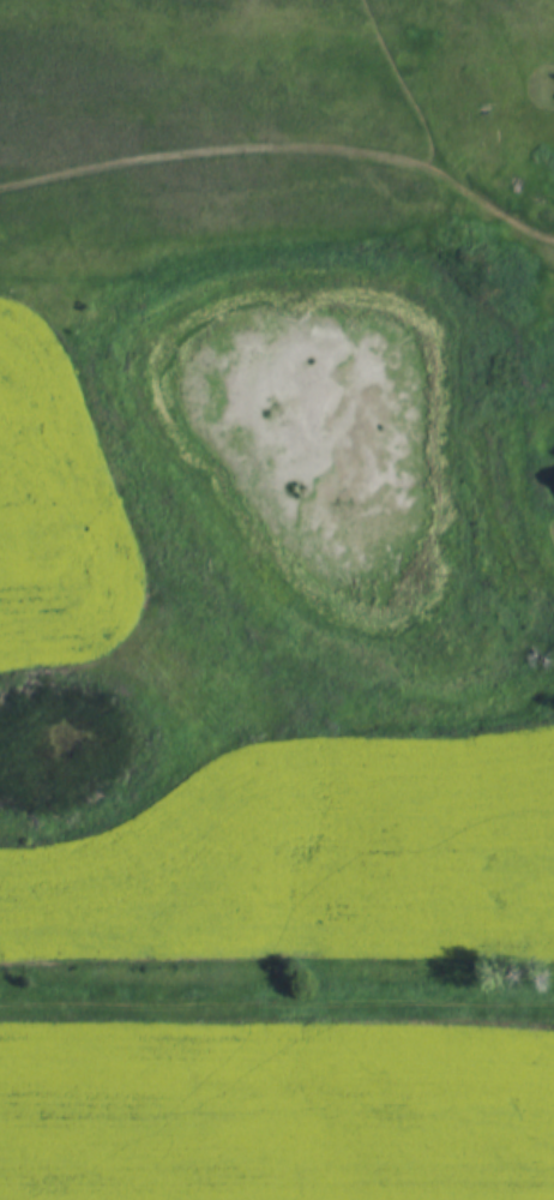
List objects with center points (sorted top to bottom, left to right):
road: (537, 49)
road: (439, 140)
road: (276, 1004)

